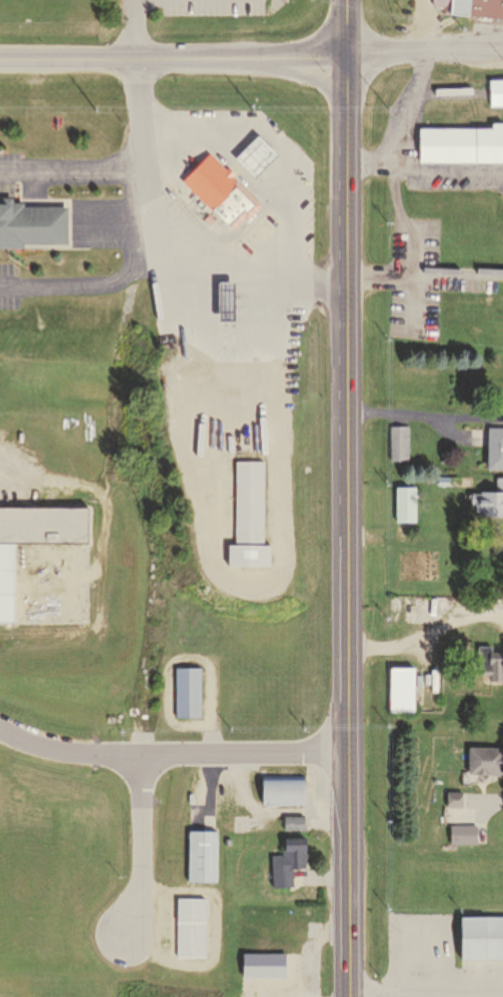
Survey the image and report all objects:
building: (493, 3)
building: (456, 7)
road: (345, 25)
road: (139, 29)
road: (423, 49)
road: (172, 58)
road: (301, 73)
road: (418, 84)
building: (496, 91)
building: (461, 145)
building: (248, 158)
road: (424, 168)
road: (68, 176)
building: (212, 190)
building: (27, 222)
road: (141, 264)
road: (74, 286)
road: (424, 411)
building: (198, 432)
building: (400, 442)
building: (495, 448)
building: (444, 478)
building: (490, 501)
building: (406, 503)
building: (248, 518)
road: (347, 523)
road: (426, 630)
building: (491, 663)
building: (401, 688)
building: (189, 691)
road: (173, 749)
building: (485, 761)
building: (280, 787)
building: (454, 798)
building: (293, 822)
building: (463, 833)
road: (143, 842)
building: (202, 854)
building: (286, 863)
building: (190, 924)
building: (288, 931)
building: (481, 939)
road: (426, 993)

